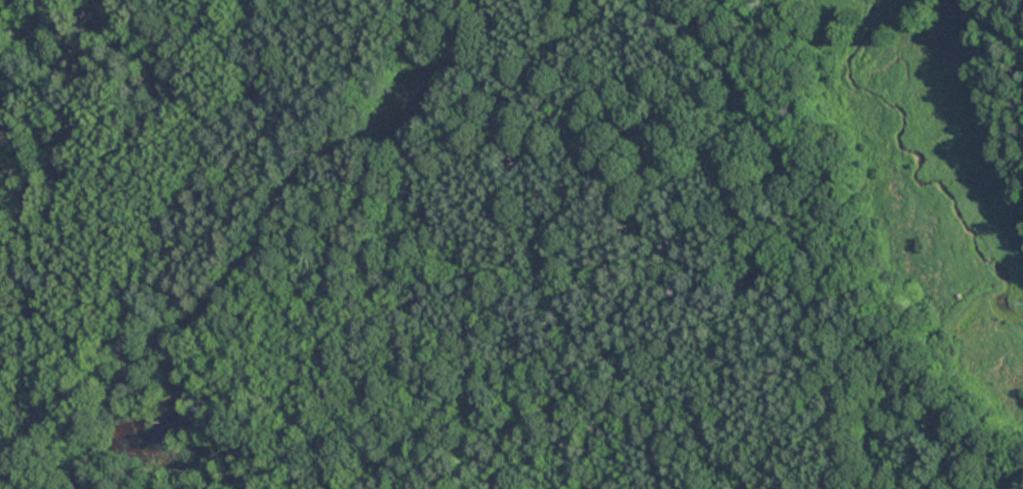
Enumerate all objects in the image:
park: (511, 244)

